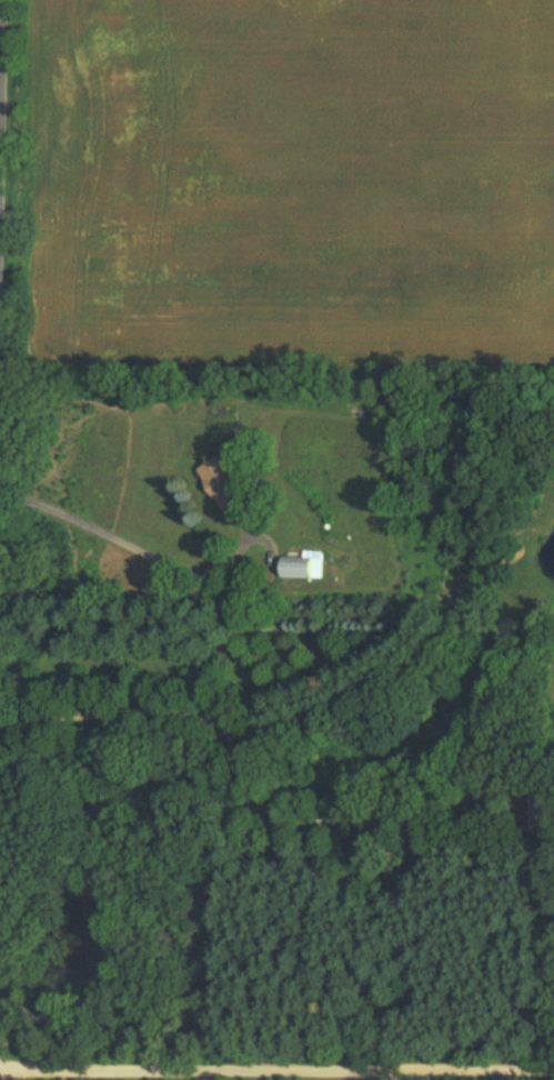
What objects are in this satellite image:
road: (1, 92)
building: (222, 482)
road: (123, 542)
building: (301, 567)
road: (251, 807)
road: (276, 1076)

